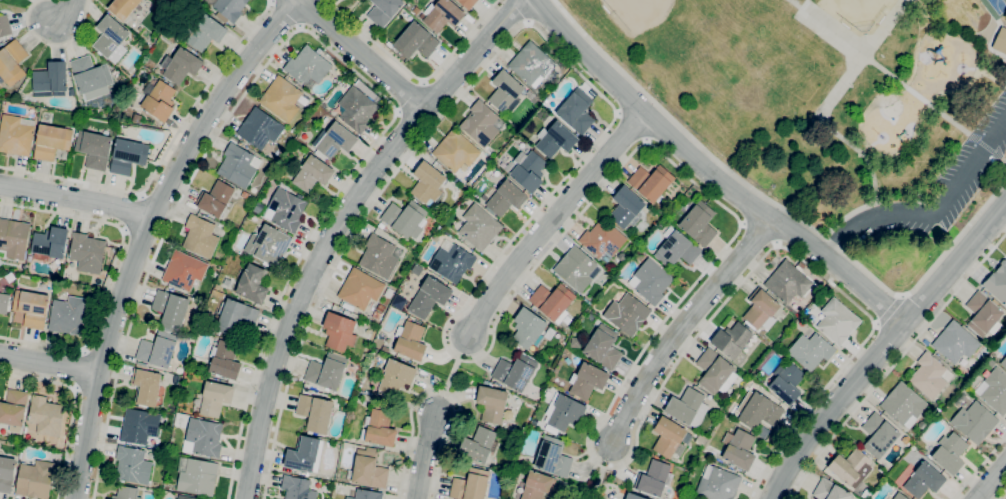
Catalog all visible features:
building: (467, 3)
building: (123, 8)
park: (994, 8)
building: (229, 9)
building: (384, 11)
road: (520, 11)
road: (66, 12)
road: (284, 13)
park: (857, 13)
building: (442, 15)
building: (4, 25)
building: (206, 33)
road: (313, 35)
park: (671, 35)
building: (111, 39)
building: (415, 41)
building: (1001, 41)
road: (53, 44)
road: (358, 53)
building: (12, 62)
building: (533, 64)
building: (180, 65)
building: (308, 66)
building: (115, 72)
building: (91, 77)
road: (416, 77)
building: (51, 78)
road: (898, 81)
building: (505, 91)
road: (407, 96)
building: (283, 98)
building: (158, 100)
park: (831, 106)
building: (356, 109)
building: (577, 111)
building: (324, 121)
building: (480, 123)
building: (260, 128)
building: (16, 135)
building: (555, 139)
building: (336, 140)
building: (51, 141)
building: (94, 148)
building: (456, 150)
road: (164, 155)
building: (128, 156)
building: (238, 165)
building: (527, 170)
road: (708, 172)
building: (312, 174)
building: (651, 182)
building: (428, 184)
road: (76, 198)
building: (506, 198)
building: (215, 199)
road: (780, 206)
building: (627, 208)
building: (285, 210)
road: (931, 212)
building: (405, 219)
building: (699, 224)
road: (554, 225)
building: (479, 227)
road: (342, 229)
road: (566, 229)
road: (145, 232)
building: (200, 236)
building: (13, 238)
building: (602, 239)
building: (50, 242)
building: (268, 245)
building: (677, 250)
building: (87, 252)
building: (379, 257)
building: (452, 261)
building: (576, 269)
building: (184, 270)
road: (112, 271)
building: (10, 277)
building: (650, 281)
building: (227, 282)
building: (787, 282)
building: (998, 282)
building: (253, 284)
building: (360, 289)
building: (429, 297)
building: (552, 302)
building: (4, 303)
building: (31, 308)
building: (171, 309)
building: (761, 310)
road: (889, 311)
building: (346, 312)
building: (627, 314)
building: (68, 315)
building: (377, 315)
building: (983, 315)
building: (236, 317)
building: (837, 321)
road: (682, 326)
building: (528, 329)
building: (340, 331)
building: (549, 333)
building: (410, 340)
building: (731, 340)
building: (955, 342)
building: (603, 347)
road: (883, 348)
building: (158, 349)
building: (810, 351)
building: (779, 352)
building: (225, 360)
road: (895, 362)
building: (991, 363)
building: (1004, 363)
road: (49, 364)
building: (327, 371)
building: (515, 372)
building: (715, 372)
road: (451, 375)
building: (930, 375)
building: (395, 376)
building: (587, 380)
building: (786, 383)
building: (147, 386)
road: (437, 391)
building: (995, 391)
building: (215, 398)
building: (492, 404)
building: (903, 404)
road: (74, 406)
building: (687, 408)
building: (14, 409)
building: (758, 410)
building: (315, 413)
building: (564, 413)
building: (46, 415)
building: (974, 422)
building: (139, 426)
building: (378, 429)
building: (763, 432)
building: (879, 435)
building: (205, 436)
building: (668, 437)
building: (478, 445)
building: (738, 449)
building: (950, 453)
building: (305, 454)
road: (424, 454)
building: (553, 457)
building: (132, 466)
building: (851, 468)
road: (978, 468)
building: (369, 469)
building: (6, 474)
building: (199, 477)
building: (35, 479)
building: (654, 479)
building: (924, 480)
road: (599, 481)
road: (991, 482)
building: (717, 484)
building: (470, 485)
building: (538, 486)
building: (297, 488)
building: (830, 491)
building: (127, 492)
building: (867, 493)
building: (366, 494)
road: (583, 494)
road: (1001, 494)
building: (633, 496)
building: (899, 496)
building: (185, 497)

